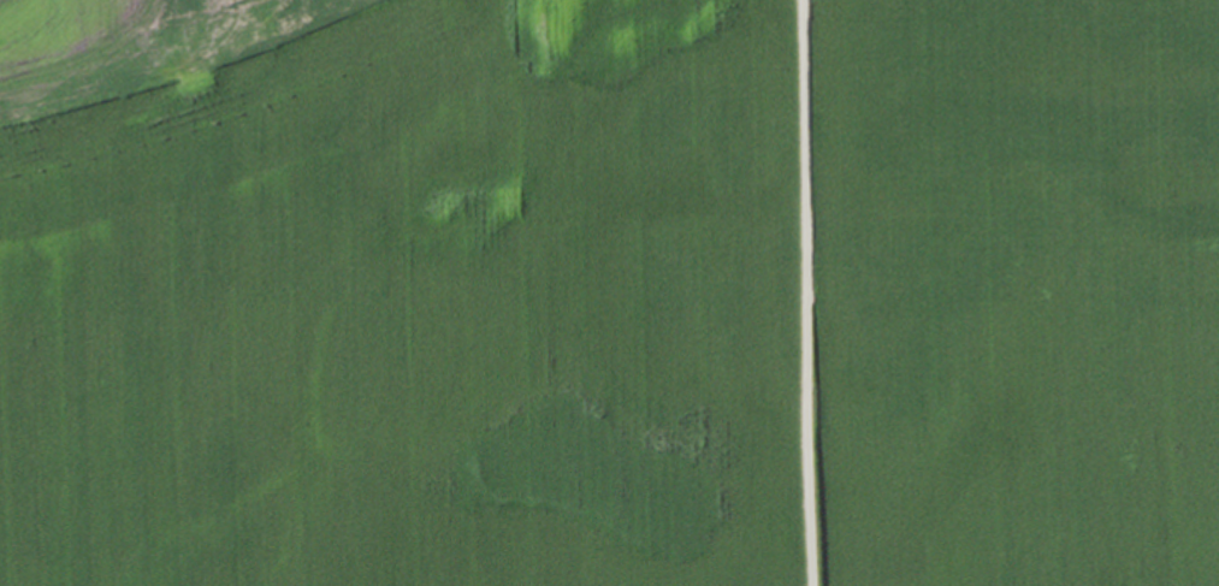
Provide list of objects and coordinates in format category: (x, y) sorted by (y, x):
crop: (609, 292)
road: (807, 292)

